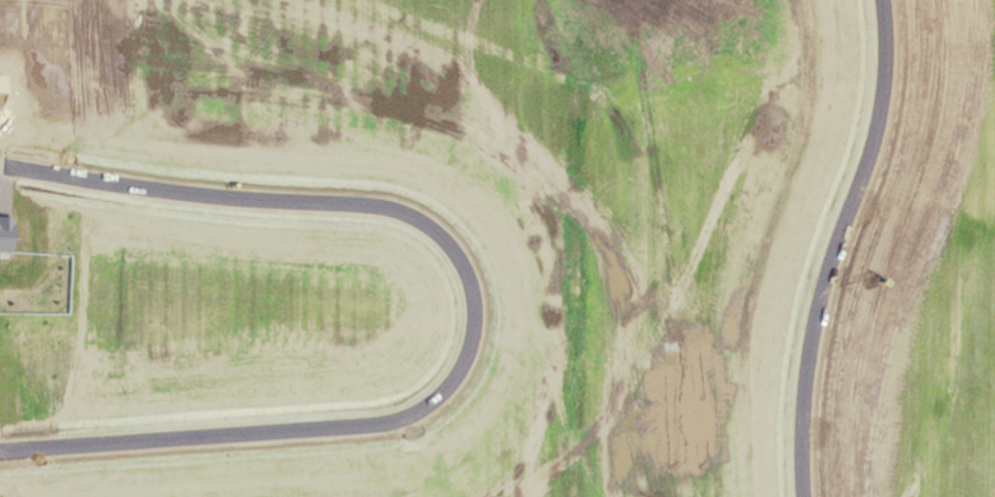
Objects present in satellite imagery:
road: (835, 246)
road: (473, 314)

